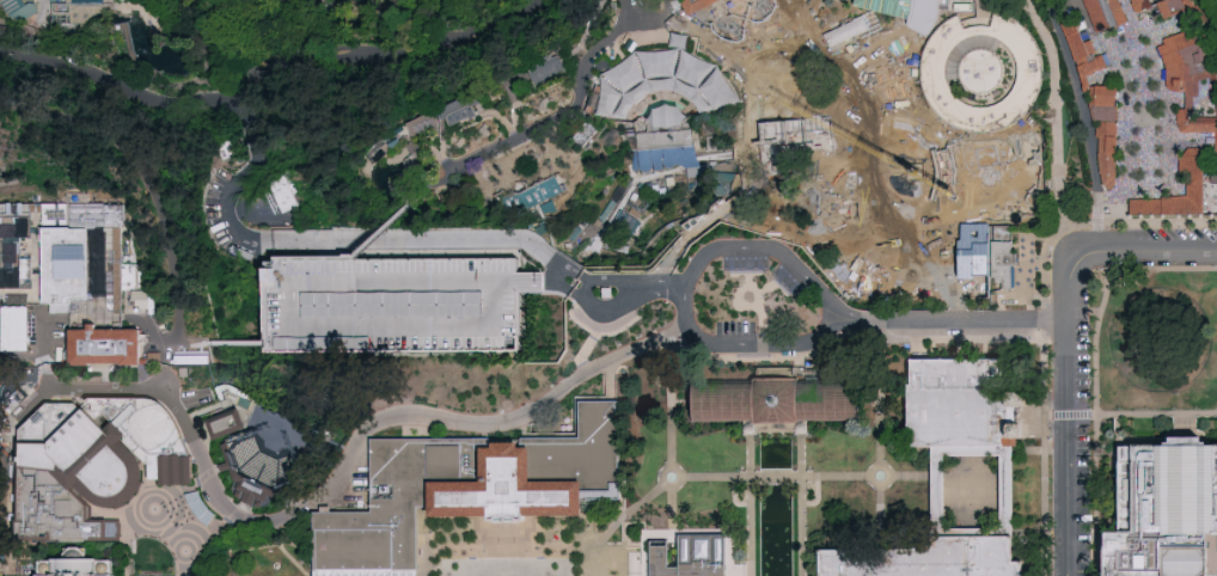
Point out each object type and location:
building: (701, 5)
building: (892, 6)
building: (1140, 6)
building: (1174, 7)
building: (748, 8)
building: (17, 10)
road: (1140, 13)
building: (1105, 16)
road: (623, 20)
road: (646, 32)
building: (0, 33)
building: (776, 33)
road: (225, 43)
building: (1082, 55)
building: (1188, 66)
building: (549, 71)
building: (980, 73)
road: (265, 74)
building: (667, 79)
road: (1166, 84)
road: (1082, 87)
building: (849, 105)
road: (1190, 105)
building: (458, 109)
road: (563, 118)
building: (423, 123)
road: (1085, 123)
road: (1205, 123)
road: (247, 127)
building: (1103, 130)
building: (667, 142)
road: (1056, 142)
building: (1215, 149)
road: (1113, 166)
road: (450, 168)
building: (1186, 189)
building: (285, 192)
building: (542, 194)
road: (919, 201)
building: (925, 201)
building: (913, 203)
building: (1144, 210)
building: (1106, 213)
road: (971, 225)
road: (381, 231)
building: (13, 239)
road: (350, 239)
building: (858, 243)
road: (728, 250)
building: (87, 252)
building: (1001, 264)
road: (929, 265)
road: (1162, 269)
building: (881, 278)
building: (921, 278)
road: (620, 281)
park: (608, 288)
road: (287, 293)
building: (147, 299)
road: (918, 301)
building: (392, 302)
parking garage: (392, 302)
road: (612, 307)
road: (1041, 321)
road: (958, 326)
road: (881, 333)
road: (784, 341)
road: (961, 342)
road: (225, 343)
road: (1068, 344)
road: (685, 347)
road: (39, 351)
building: (100, 355)
road: (784, 357)
road: (1095, 396)
road: (671, 398)
road: (880, 402)
building: (776, 406)
building: (968, 406)
road: (1156, 415)
road: (1070, 416)
road: (1093, 416)
road: (1047, 417)
road: (1036, 418)
building: (227, 423)
road: (1136, 441)
road: (1185, 447)
road: (987, 449)
road: (1028, 451)
road: (941, 452)
road: (350, 454)
road: (750, 458)
road: (801, 458)
street lamp: (665, 462)
building: (96, 464)
building: (265, 465)
street lamp: (736, 471)
road: (827, 476)
fountain: (879, 476)
road: (721, 477)
road: (775, 477)
road: (888, 477)
road: (661, 478)
fountain: (672, 480)
building: (466, 491)
road: (1002, 492)
road: (734, 496)
road: (817, 496)
building: (936, 505)
road: (671, 509)
road: (628, 511)
building: (1163, 516)
road: (942, 517)
street lamp: (628, 519)
road: (167, 520)
road: (879, 521)
road: (516, 523)
road: (629, 528)
road: (801, 529)
road: (750, 531)
road: (971, 532)
road: (981, 533)
road: (200, 540)
road: (287, 553)
road: (644, 556)
building: (690, 558)
building: (926, 559)
building: (80, 565)
building: (20, 575)

